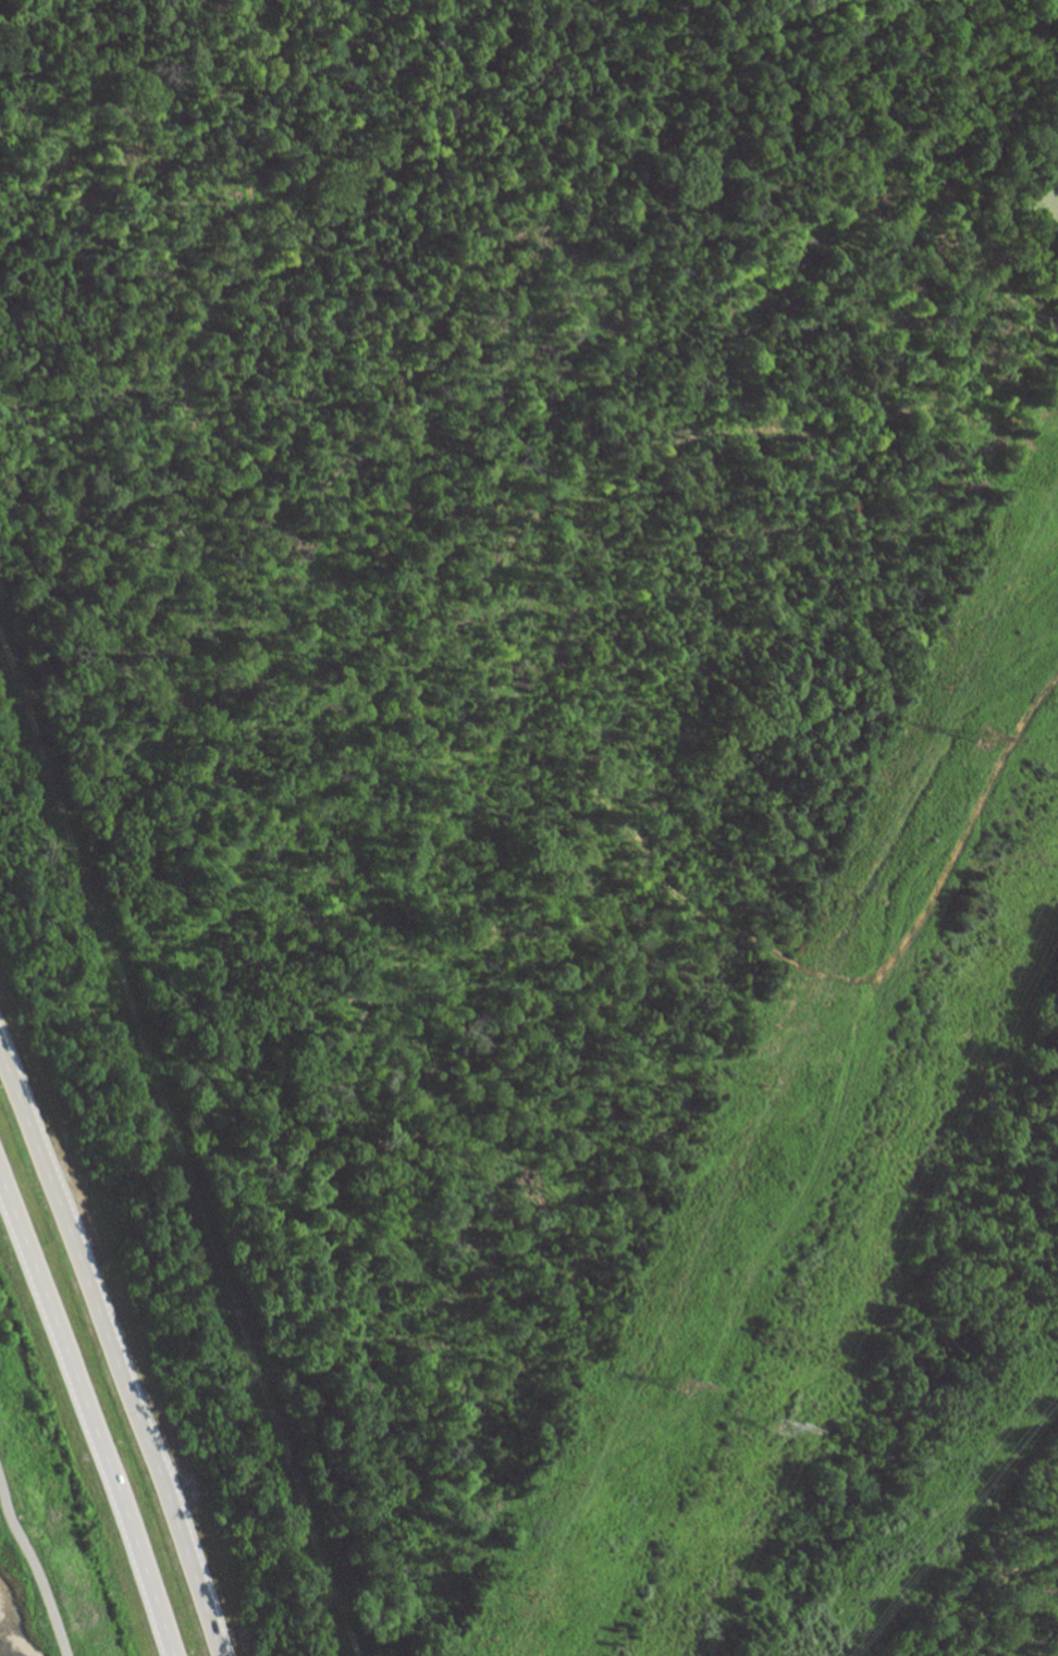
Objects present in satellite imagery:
road: (177, 1161)
road: (112, 1350)
road: (90, 1419)
power tower: (782, 1430)

